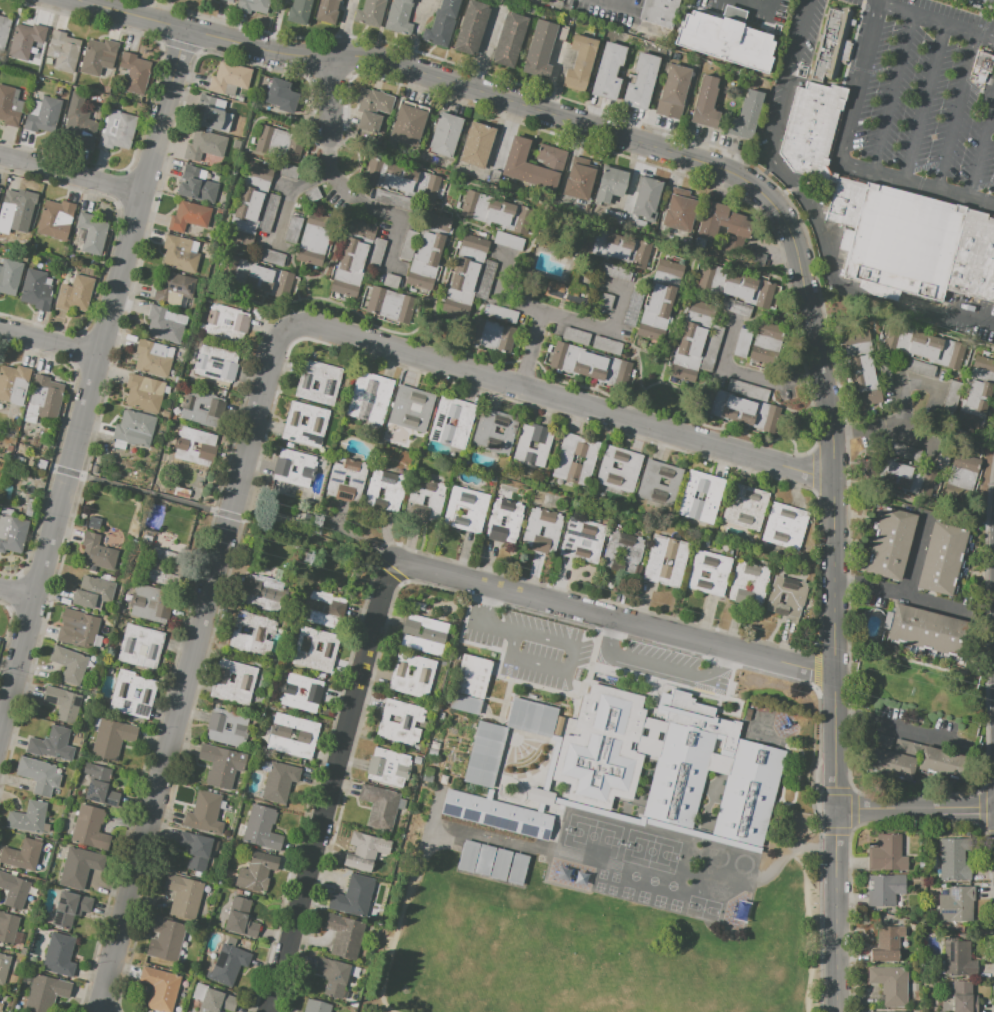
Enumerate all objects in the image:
building: (229, 0)
building: (340, 0)
road: (981, 4)
building: (255, 5)
road: (618, 6)
road: (757, 7)
building: (298, 10)
building: (326, 11)
building: (369, 12)
building: (658, 12)
road: (940, 15)
building: (399, 16)
building: (442, 23)
building: (470, 28)
building: (3, 30)
building: (725, 39)
building: (25, 40)
building: (509, 40)
road: (802, 40)
building: (837, 43)
building: (539, 49)
building: (63, 51)
road: (421, 52)
building: (98, 56)
building: (580, 62)
building: (984, 66)
road: (402, 67)
building: (608, 71)
building: (135, 72)
building: (229, 77)
building: (640, 81)
road: (894, 89)
building: (673, 91)
road: (336, 94)
building: (281, 96)
road: (927, 99)
building: (705, 102)
building: (10, 106)
building: (373, 108)
road: (958, 108)
building: (213, 114)
building: (43, 116)
building: (746, 116)
building: (79, 123)
building: (407, 125)
building: (117, 130)
building: (445, 135)
road: (987, 137)
building: (265, 139)
building: (477, 144)
building: (205, 146)
building: (294, 149)
road: (332, 156)
road: (841, 158)
building: (534, 165)
road: (767, 168)
road: (71, 173)
road: (766, 178)
building: (401, 180)
building: (578, 182)
building: (610, 184)
building: (197, 185)
road: (788, 188)
road: (344, 191)
building: (647, 198)
building: (249, 204)
building: (15, 212)
building: (268, 213)
building: (678, 213)
building: (497, 214)
building: (54, 216)
building: (189, 216)
building: (889, 218)
building: (722, 223)
building: (91, 233)
building: (318, 240)
building: (474, 243)
building: (408, 244)
building: (616, 247)
building: (430, 252)
building: (375, 253)
building: (179, 254)
building: (270, 256)
road: (826, 256)
building: (753, 257)
building: (352, 259)
building: (669, 268)
building: (10, 276)
building: (256, 278)
building: (391, 280)
building: (462, 285)
building: (737, 287)
building: (35, 290)
building: (175, 290)
building: (569, 292)
building: (75, 294)
building: (384, 303)
building: (658, 307)
building: (734, 307)
building: (501, 313)
road: (556, 315)
building: (163, 324)
building: (228, 324)
building: (491, 334)
building: (576, 336)
building: (691, 337)
building: (856, 339)
road: (49, 342)
building: (606, 345)
building: (769, 346)
building: (922, 347)
road: (533, 350)
building: (152, 358)
building: (216, 363)
building: (588, 364)
building: (983, 364)
building: (919, 367)
road: (751, 376)
building: (864, 380)
road: (909, 381)
road: (90, 383)
building: (14, 384)
building: (327, 385)
building: (746, 389)
building: (143, 392)
building: (45, 396)
building: (369, 397)
building: (977, 397)
road: (565, 401)
building: (201, 408)
building: (411, 408)
building: (740, 410)
building: (303, 421)
building: (317, 421)
building: (452, 422)
building: (134, 428)
road: (882, 429)
building: (484, 430)
building: (195, 446)
building: (522, 446)
building: (563, 460)
building: (282, 468)
building: (630, 468)
building: (961, 475)
building: (909, 480)
building: (356, 481)
building: (658, 483)
building: (387, 491)
building: (712, 496)
building: (425, 499)
building: (424, 503)
building: (745, 507)
building: (461, 510)
building: (475, 511)
road: (231, 515)
building: (504, 520)
power tower: (317, 522)
building: (94, 523)
building: (785, 526)
building: (541, 531)
building: (551, 531)
building: (12, 533)
building: (571, 540)
building: (891, 543)
building: (96, 552)
building: (622, 552)
power tower: (307, 559)
building: (942, 559)
building: (665, 561)
building: (159, 566)
building: (718, 574)
road: (835, 575)
building: (738, 585)
road: (893, 591)
road: (17, 592)
building: (92, 592)
building: (261, 592)
building: (786, 596)
building: (151, 604)
building: (323, 609)
road: (615, 618)
road: (477, 622)
building: (77, 628)
building: (927, 630)
building: (252, 633)
building: (423, 634)
building: (139, 646)
parking lot: (526, 646)
building: (315, 650)
building: (69, 664)
road: (565, 664)
road: (193, 667)
road: (656, 668)
building: (422, 675)
building: (233, 682)
building: (471, 684)
building: (301, 692)
building: (131, 694)
building: (290, 694)
building: (63, 703)
building: (531, 717)
building: (400, 721)
road: (891, 726)
building: (239, 727)
building: (292, 735)
building: (111, 738)
building: (52, 744)
building: (434, 745)
building: (432, 752)
building: (485, 754)
road: (851, 754)
building: (891, 758)
building: (415, 759)
building: (667, 763)
building: (938, 763)
building: (221, 765)
building: (387, 766)
building: (429, 771)
building: (39, 775)
building: (278, 781)
building: (99, 785)
road: (333, 787)
building: (379, 806)
road: (915, 806)
building: (204, 813)
building: (496, 814)
building: (29, 818)
building: (89, 828)
building: (261, 828)
building: (195, 850)
building: (365, 851)
building: (886, 853)
building: (22, 855)
building: (737, 860)
building: (953, 860)
building: (79, 867)
building: (256, 871)
building: (884, 889)
building: (13, 890)
building: (183, 896)
building: (352, 896)
building: (956, 904)
building: (69, 908)
building: (241, 918)
building: (8, 927)
building: (344, 935)
building: (166, 940)
building: (887, 944)
building: (58, 955)
building: (957, 957)
building: (228, 964)
building: (5, 969)
building: (334, 975)
building: (889, 984)
building: (160, 988)
building: (46, 993)
building: (963, 997)
building: (1, 998)
building: (216, 1001)
building: (316, 1006)
building: (881, 1011)

